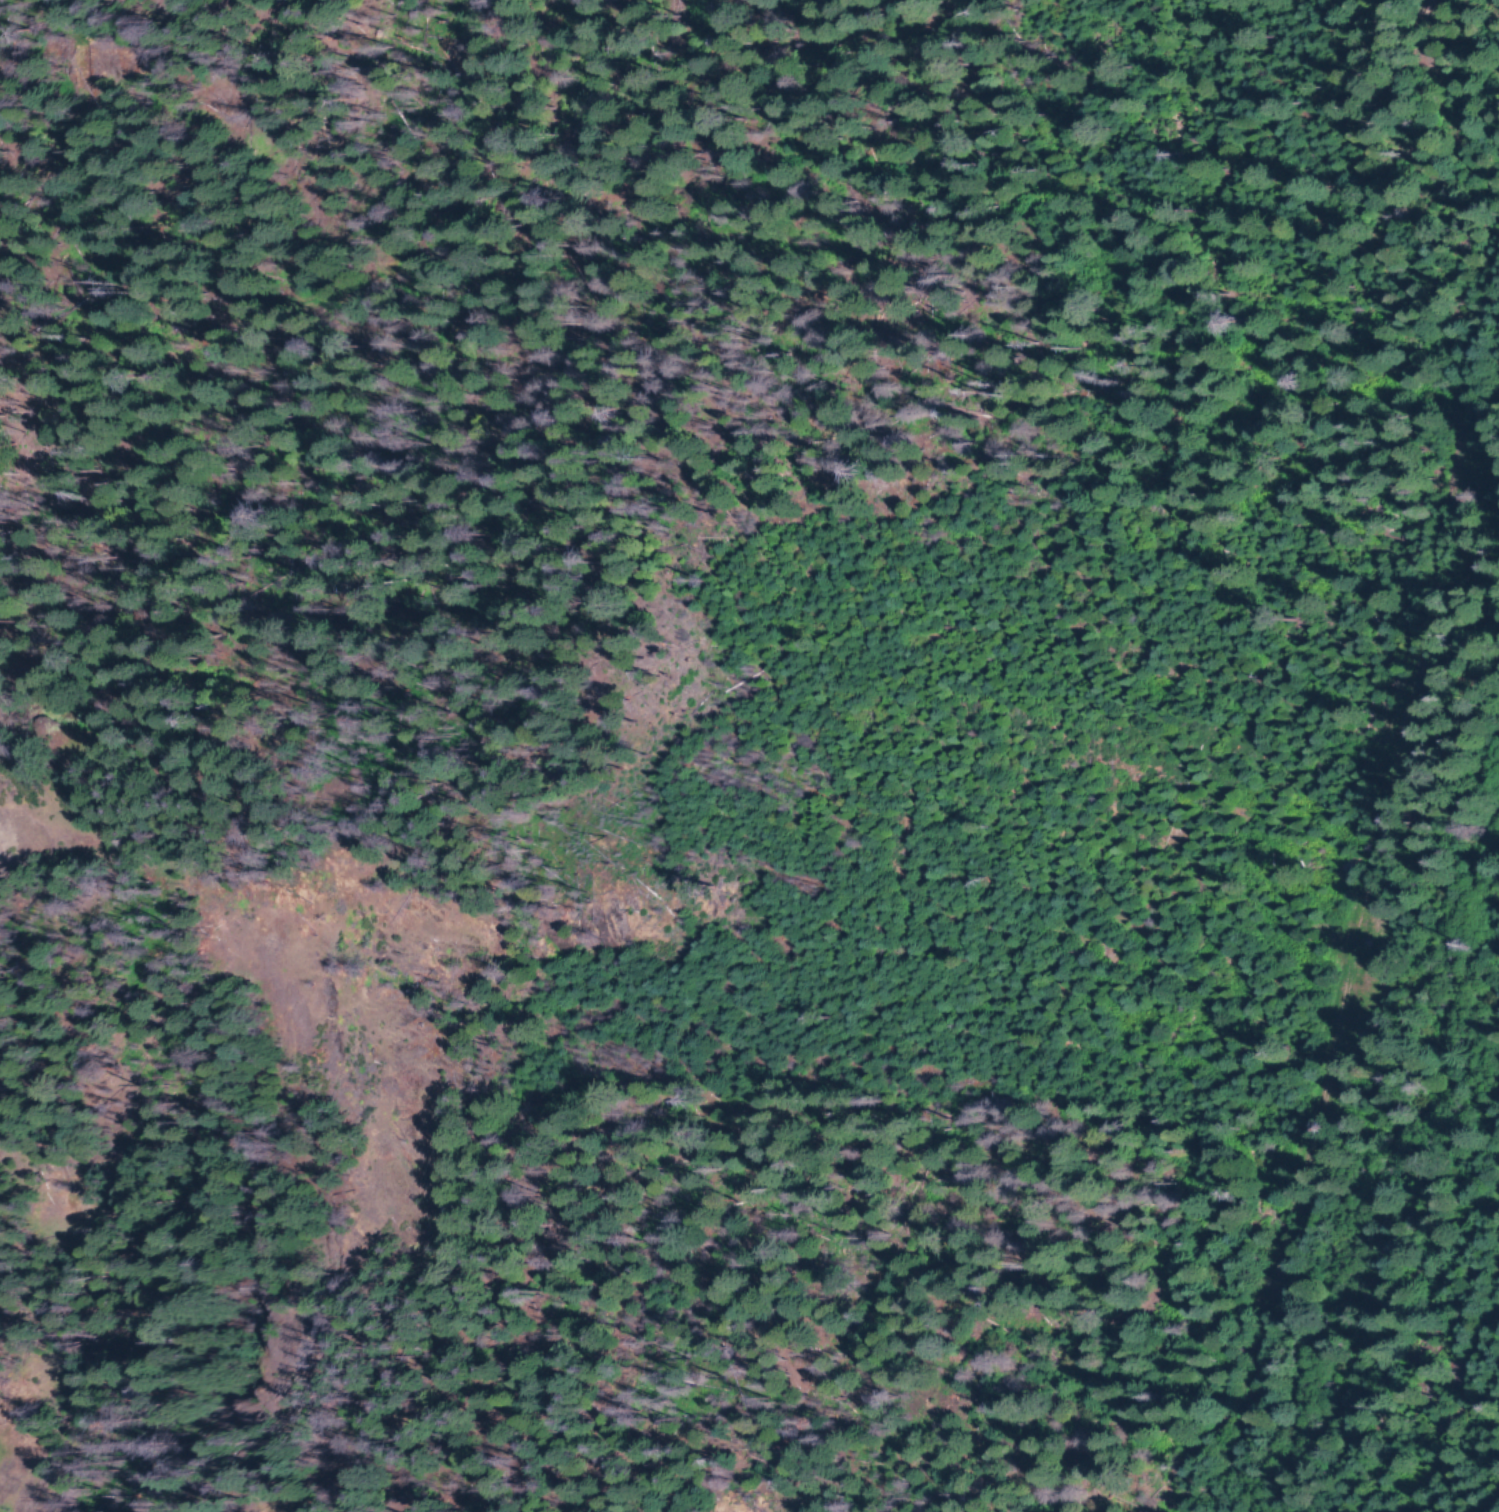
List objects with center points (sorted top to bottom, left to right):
road: (1366, 894)

